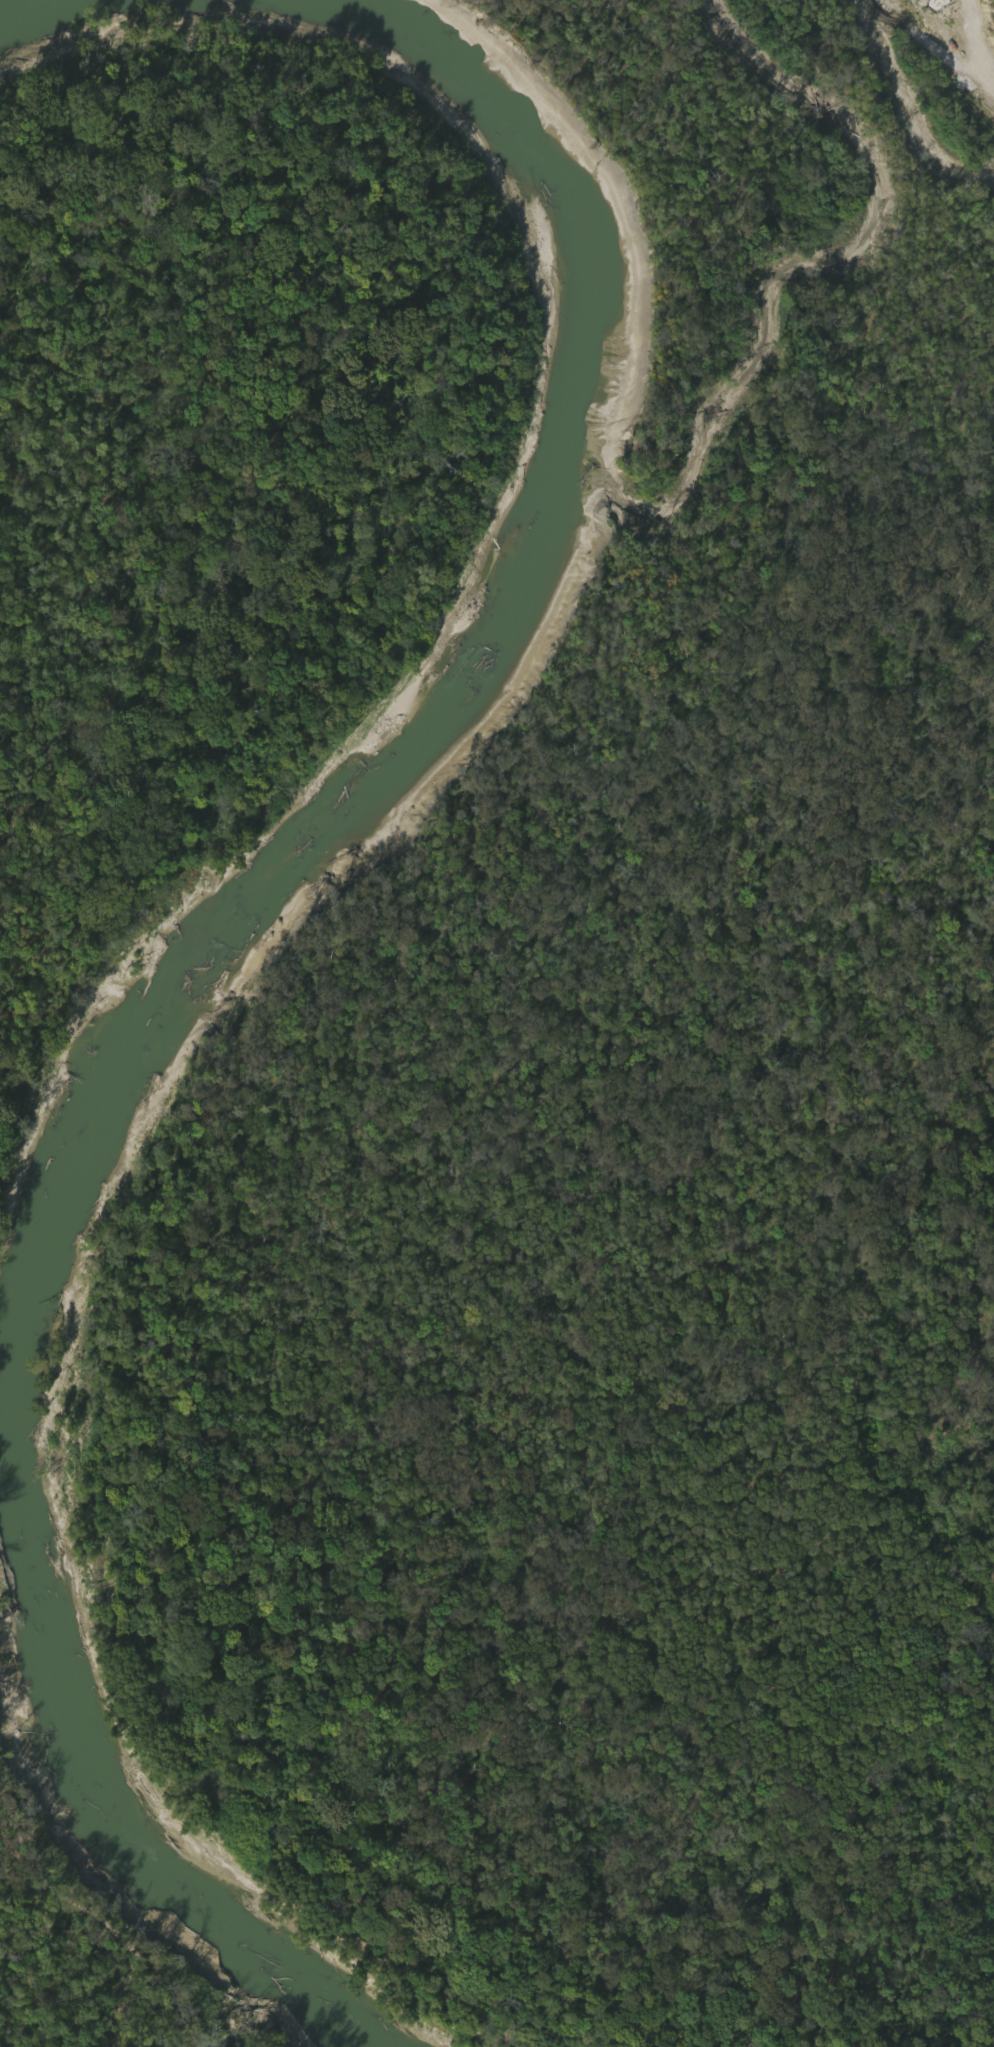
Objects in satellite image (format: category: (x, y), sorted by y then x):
river: (74, 14)
river: (336, 808)
river: (215, 1847)
river: (340, 1982)

